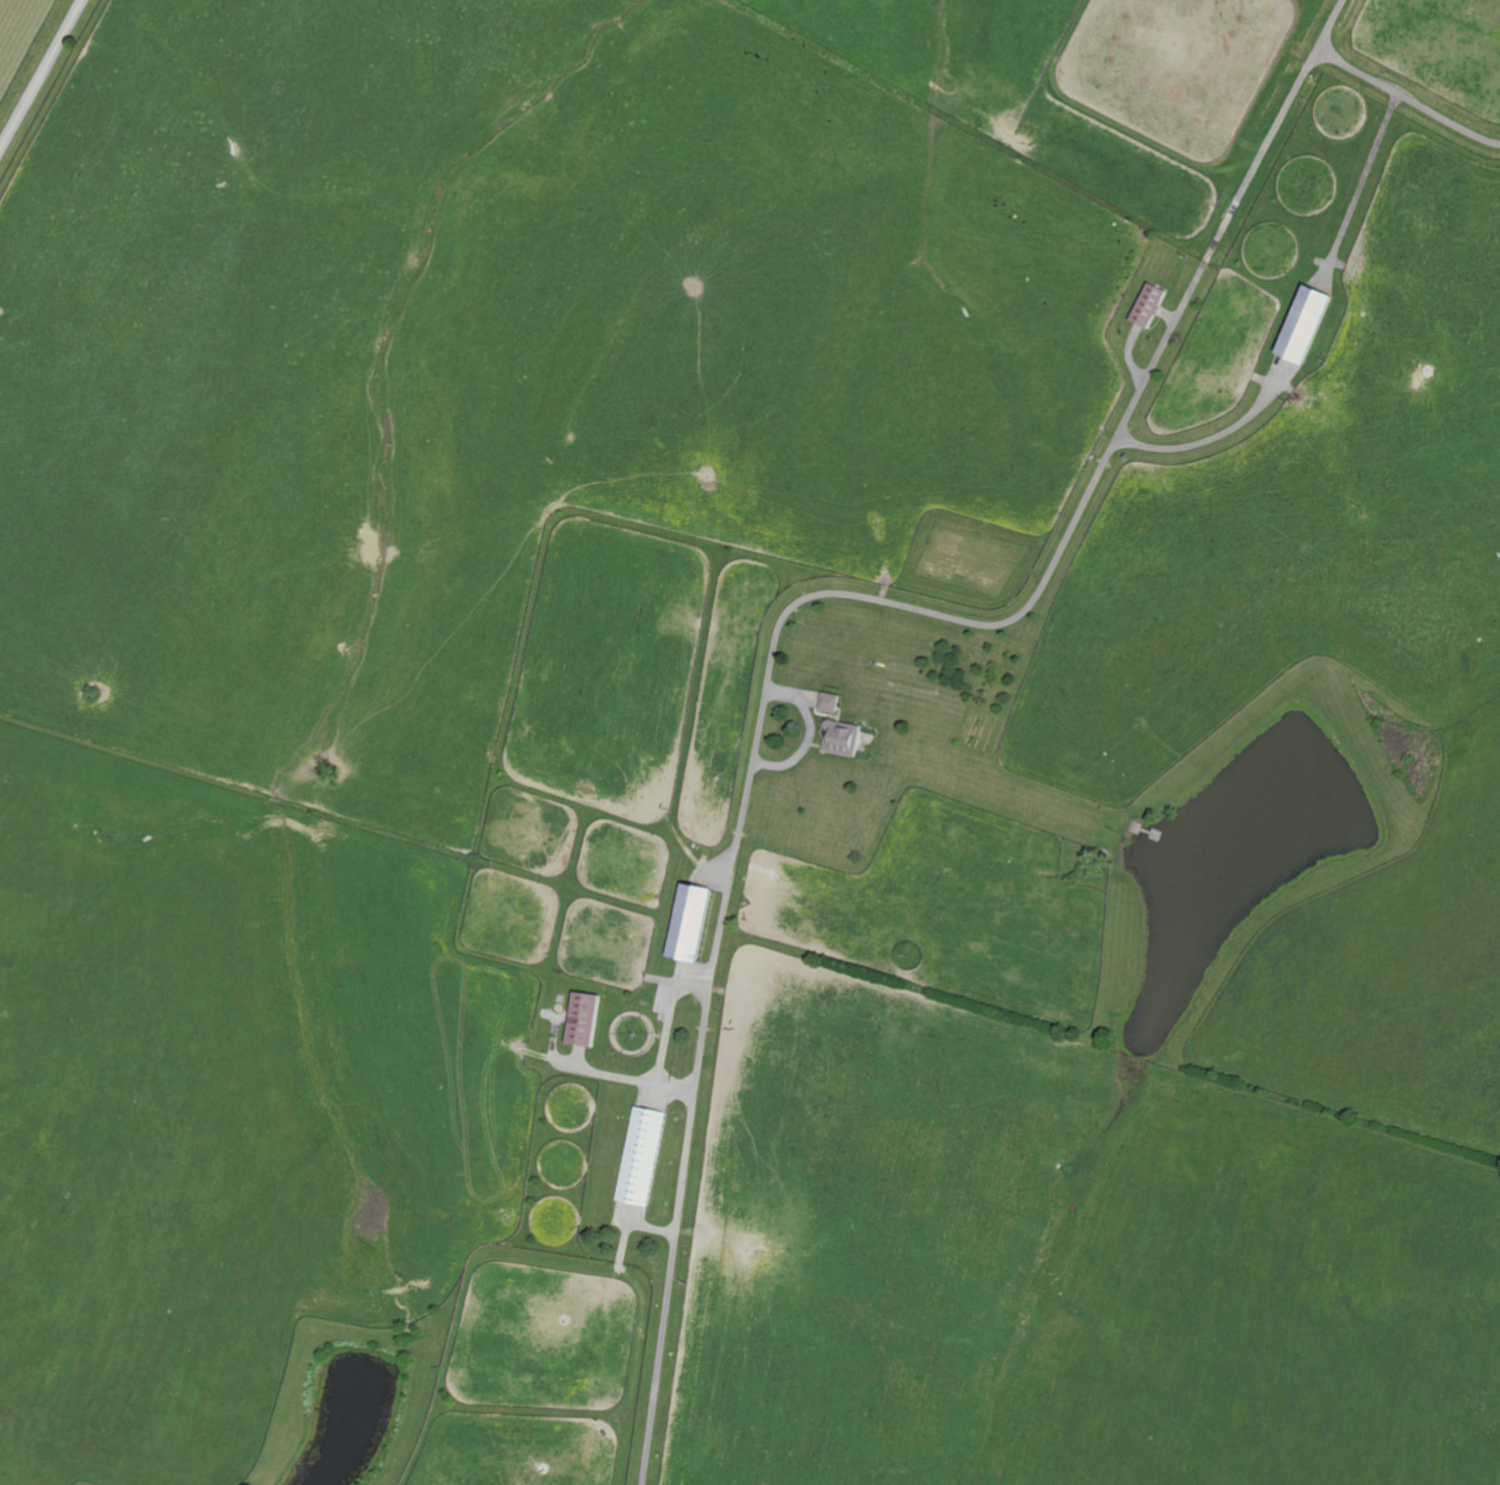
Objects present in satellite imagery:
road: (42, 77)
road: (1400, 91)
building: (1142, 306)
building: (1296, 327)
road: (1209, 433)
road: (805, 598)
building: (698, 921)
building: (588, 1018)
building: (645, 1155)

